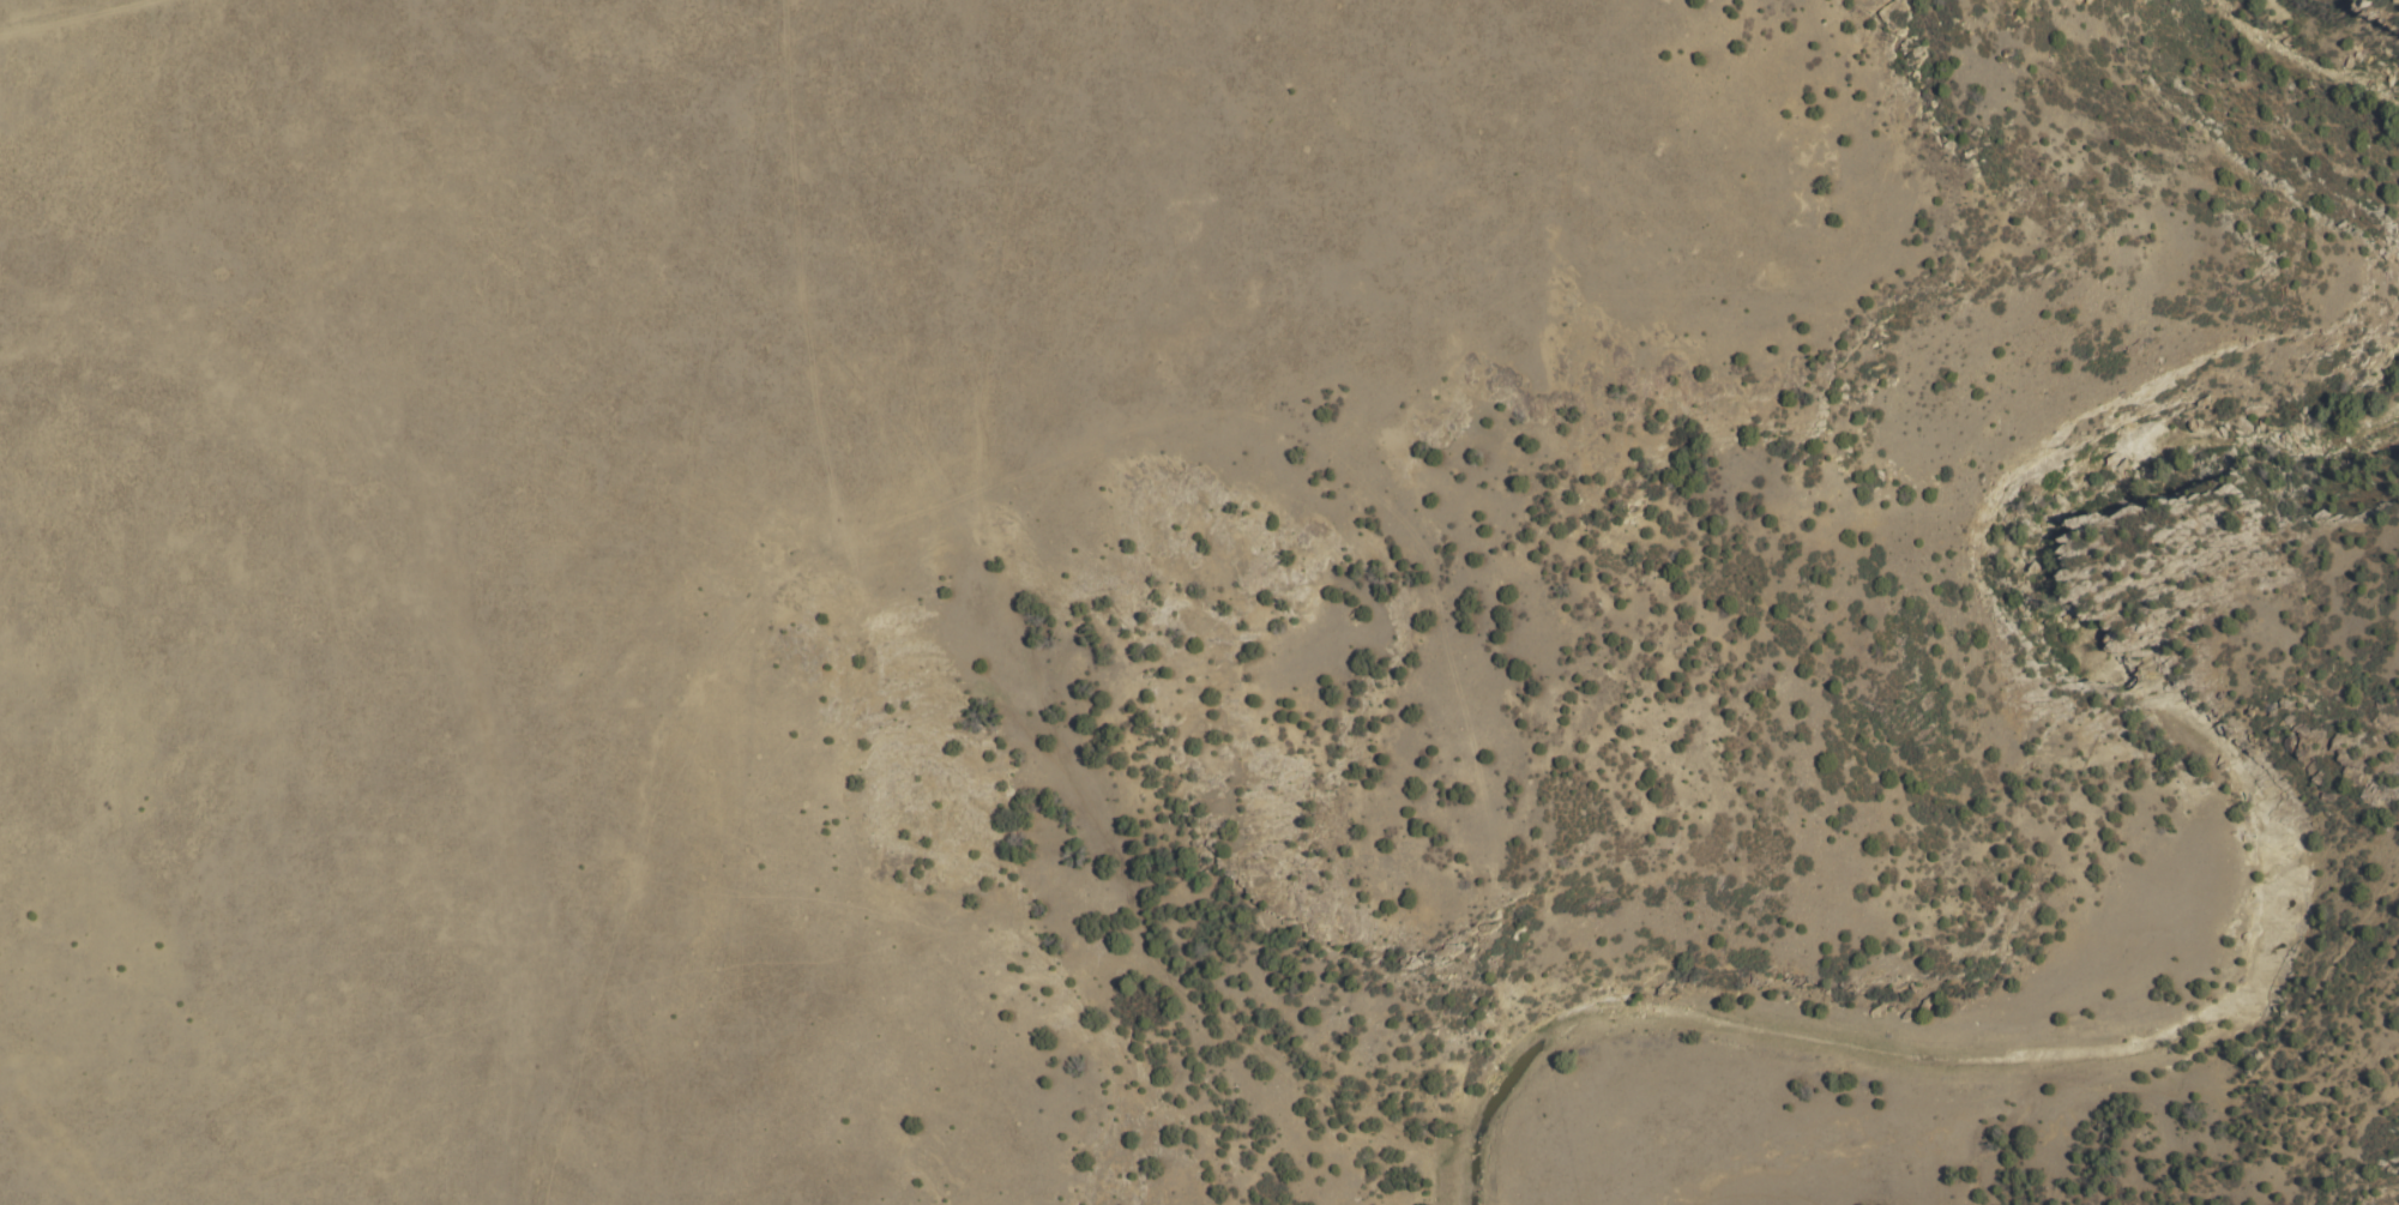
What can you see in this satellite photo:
road: (98, 20)
road: (1123, 548)
road: (653, 603)

